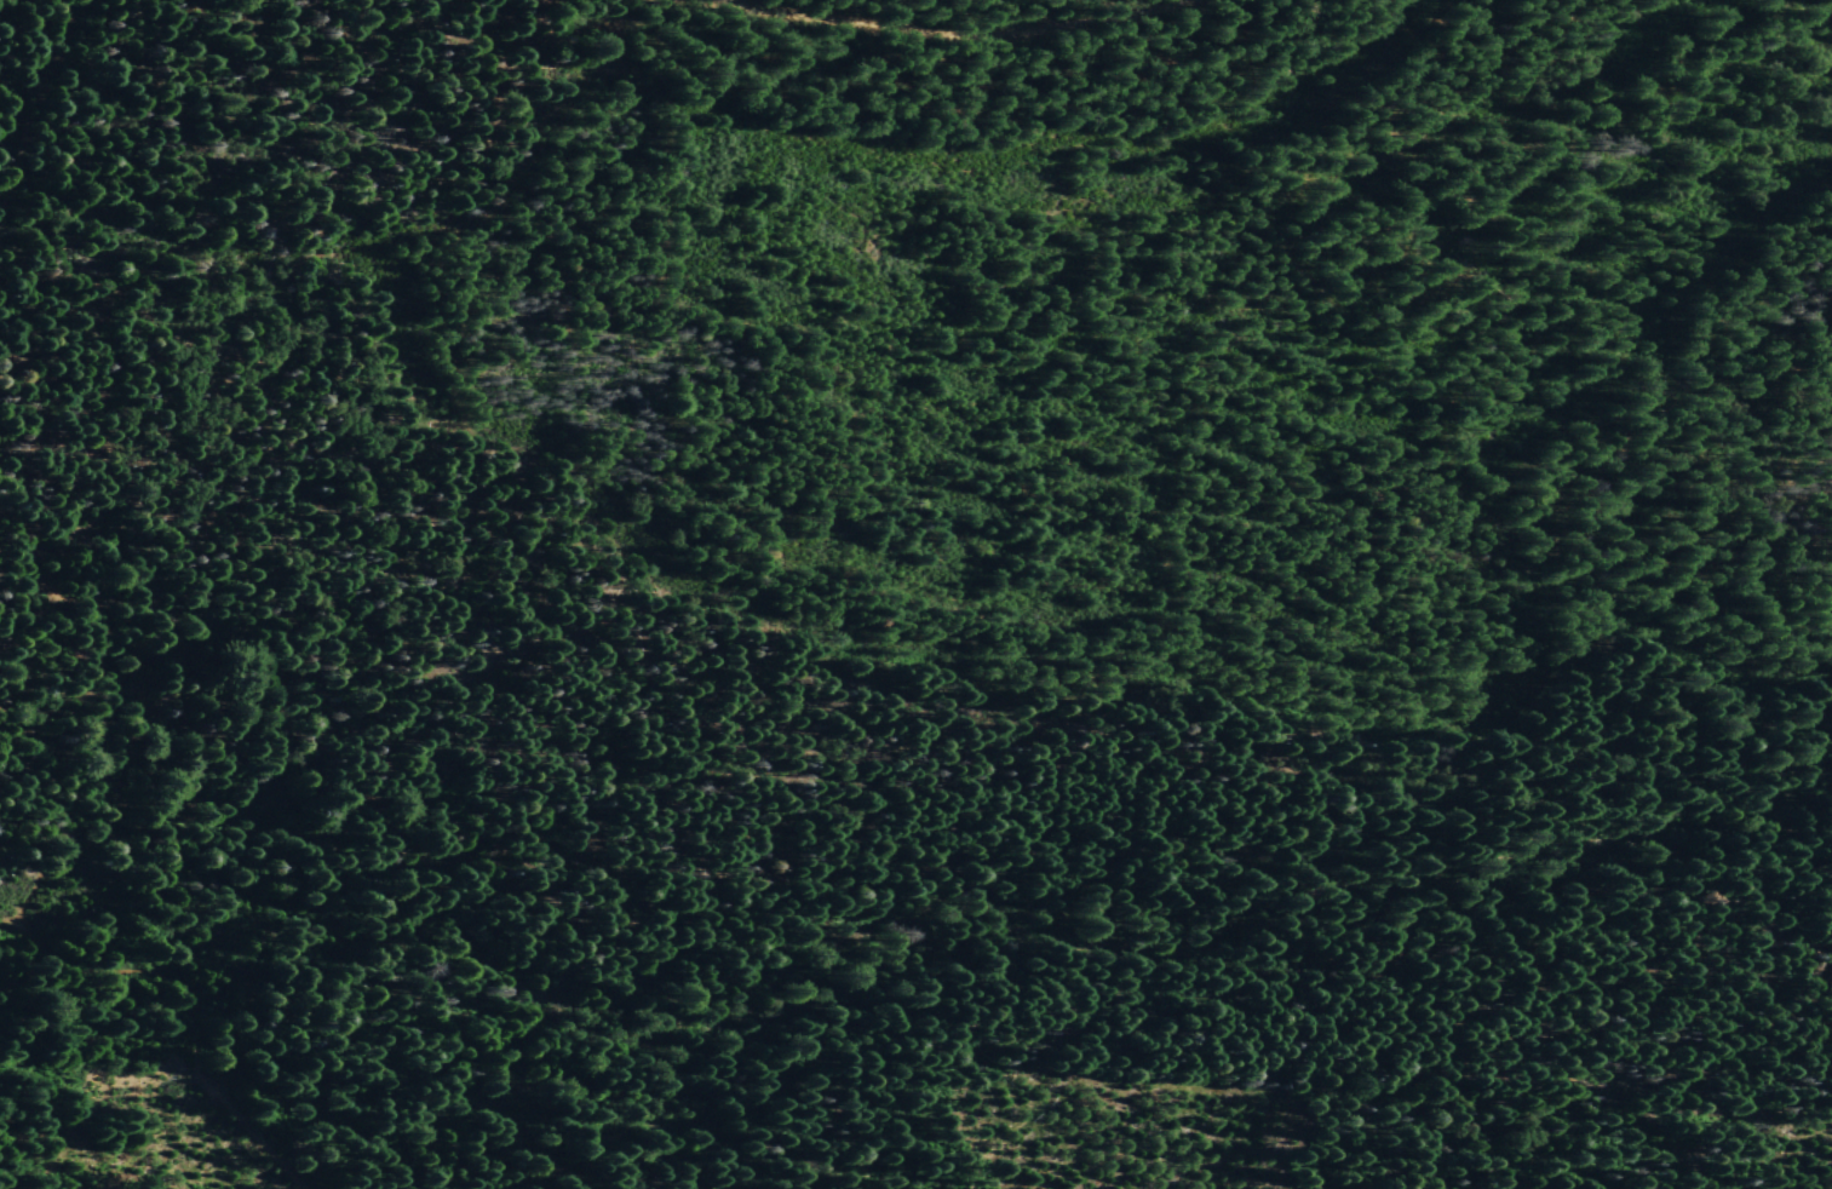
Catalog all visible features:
road: (951, 35)
road: (1477, 62)
road: (880, 94)

